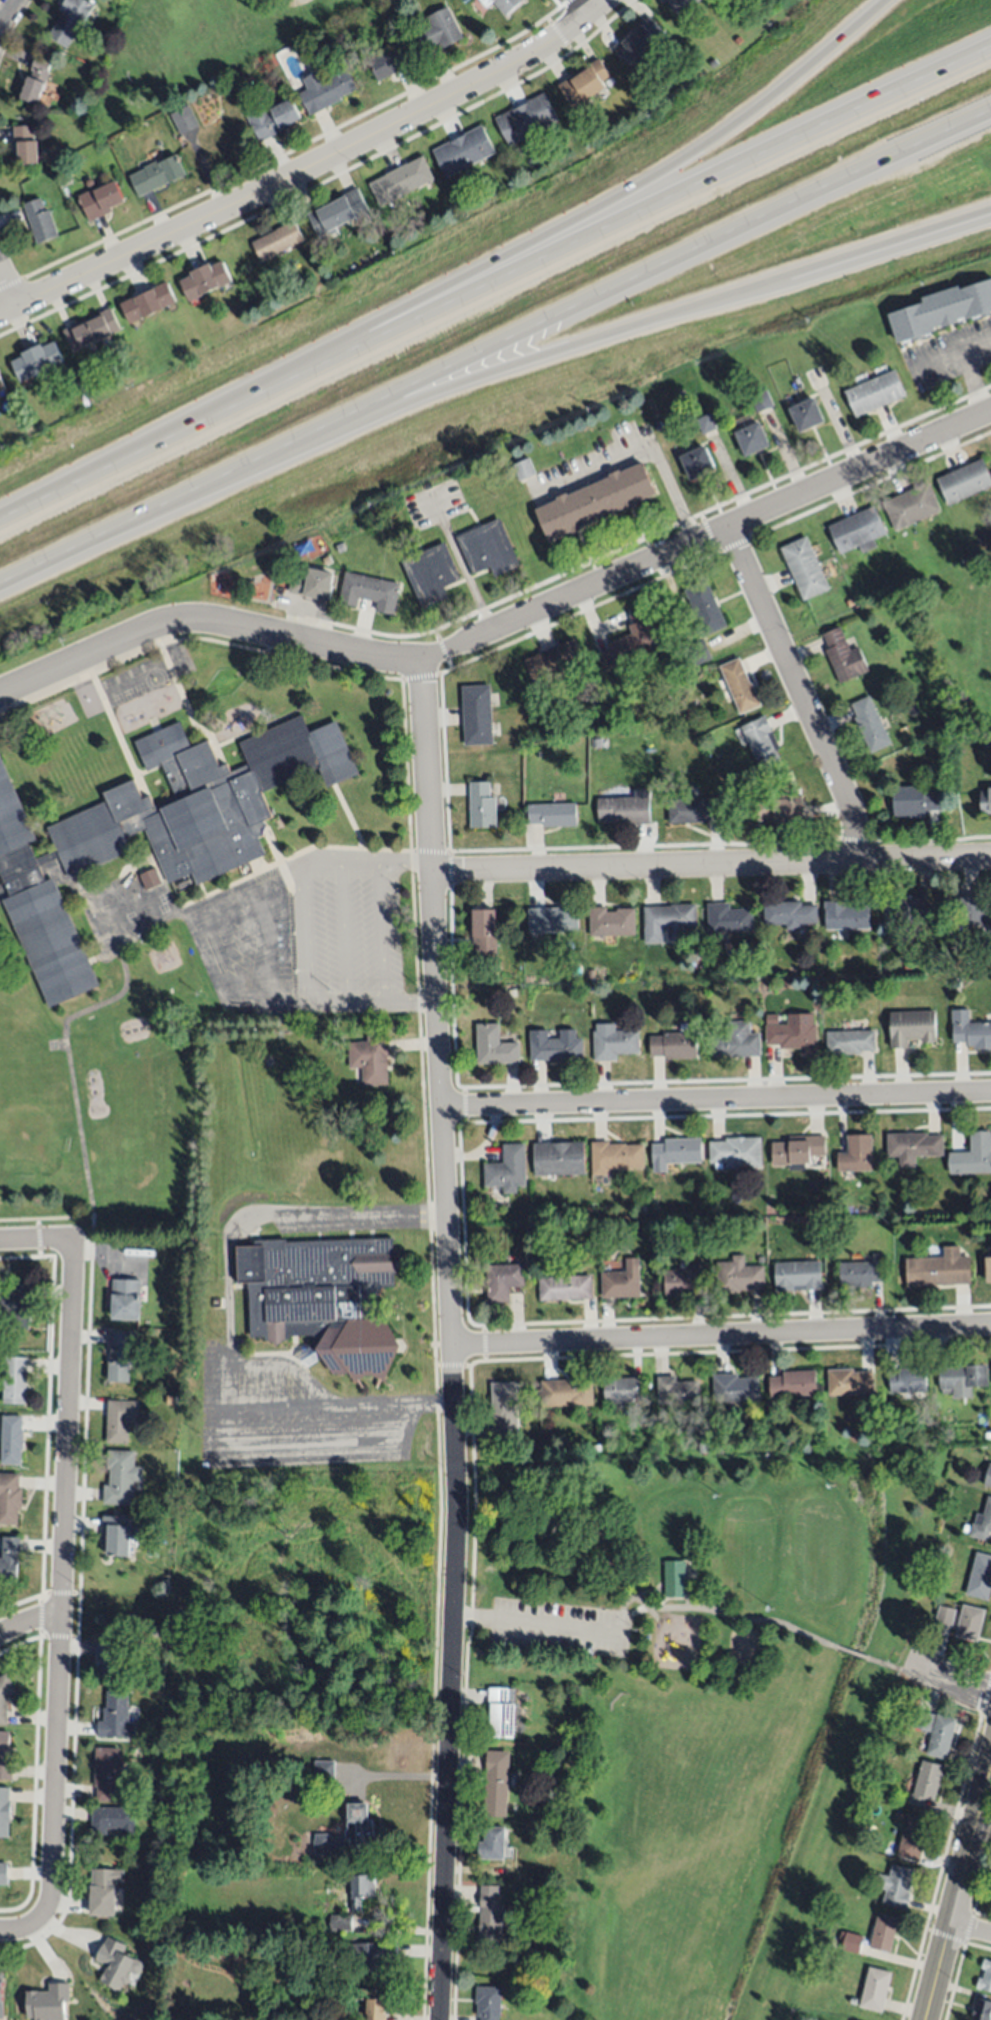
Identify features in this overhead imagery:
building: (502, 4)
building: (682, 4)
road: (584, 6)
road: (6, 12)
building: (70, 21)
road: (602, 26)
building: (438, 30)
building: (640, 41)
park: (213, 56)
building: (388, 63)
building: (713, 64)
building: (697, 66)
building: (35, 79)
building: (583, 84)
building: (324, 91)
building: (271, 118)
building: (526, 119)
building: (184, 120)
building: (24, 145)
road: (288, 151)
building: (464, 151)
road: (308, 169)
building: (156, 175)
building: (402, 183)
road: (307, 188)
building: (100, 200)
building: (338, 213)
building: (39, 220)
building: (277, 241)
building: (205, 280)
road: (457, 283)
road: (496, 289)
road: (8, 290)
building: (148, 302)
building: (941, 310)
building: (90, 328)
road: (493, 347)
road: (572, 349)
road: (952, 352)
building: (36, 360)
road: (972, 382)
building: (1, 386)
building: (875, 394)
building: (761, 402)
building: (806, 414)
building: (705, 423)
building: (752, 439)
building: (697, 463)
building: (523, 469)
building: (964, 482)
building: (595, 501)
building: (911, 506)
building: (857, 531)
building: (304, 548)
building: (340, 548)
building: (489, 549)
building: (804, 568)
road: (462, 570)
building: (431, 574)
building: (313, 585)
building: (369, 592)
building: (704, 608)
road: (504, 624)
building: (630, 641)
building: (695, 653)
park: (949, 655)
building: (843, 656)
building: (554, 661)
building: (739, 686)
building: (672, 689)
road: (798, 691)
building: (477, 716)
building: (545, 724)
building: (870, 724)
building: (595, 741)
building: (987, 743)
building: (763, 744)
building: (916, 801)
building: (986, 802)
building: (482, 806)
building: (626, 809)
building: (742, 809)
building: (779, 809)
building: (694, 810)
building: (553, 815)
building: (153, 831)
road: (401, 861)
road: (343, 862)
road: (711, 864)
road: (305, 872)
building: (150, 879)
building: (975, 911)
building: (790, 914)
building: (845, 916)
building: (907, 916)
building: (729, 918)
building: (552, 920)
building: (668, 921)
building: (611, 922)
building: (951, 929)
road: (345, 931)
building: (485, 933)
road: (380, 934)
road: (307, 939)
building: (907, 966)
building: (954, 981)
building: (568, 987)
road: (347, 1000)
road: (411, 1000)
building: (911, 1026)
building: (792, 1031)
building: (970, 1031)
building: (735, 1040)
building: (850, 1041)
building: (615, 1044)
building: (673, 1045)
building: (495, 1046)
building: (558, 1048)
building: (371, 1059)
road: (68, 1068)
road: (718, 1099)
building: (914, 1146)
building: (675, 1151)
building: (798, 1151)
building: (736, 1152)
building: (857, 1154)
building: (973, 1155)
building: (615, 1157)
building: (559, 1159)
building: (508, 1169)
road: (357, 1215)
building: (103, 1225)
road: (27, 1238)
building: (940, 1269)
building: (988, 1269)
building: (860, 1274)
building: (737, 1276)
building: (798, 1276)
building: (683, 1281)
building: (504, 1282)
building: (620, 1283)
building: (565, 1288)
building: (323, 1297)
building: (125, 1299)
road: (225, 1300)
building: (16, 1305)
road: (721, 1336)
road: (451, 1338)
building: (119, 1356)
building: (908, 1379)
building: (962, 1379)
building: (14, 1381)
building: (850, 1382)
building: (793, 1384)
building: (735, 1388)
building: (622, 1389)
building: (677, 1391)
building: (567, 1393)
road: (433, 1406)
building: (505, 1408)
building: (120, 1419)
building: (987, 1436)
building: (11, 1440)
road: (218, 1440)
building: (597, 1448)
building: (703, 1448)
building: (121, 1477)
building: (988, 1477)
building: (11, 1496)
building: (545, 1523)
building: (983, 1524)
building: (118, 1534)
building: (9, 1558)
road: (62, 1567)
building: (980, 1577)
building: (675, 1578)
road: (660, 1608)
building: (945, 1615)
road: (29, 1621)
building: (970, 1623)
building: (154, 1632)
building: (108, 1660)
road: (944, 1680)
building: (4, 1696)
park: (708, 1706)
building: (502, 1712)
building: (116, 1717)
building: (936, 1732)
building: (568, 1751)
building: (5, 1756)
building: (882, 1768)
building: (324, 1770)
building: (106, 1773)
building: (926, 1782)
building: (496, 1783)
building: (161, 1785)
building: (193, 1797)
building: (4, 1811)
building: (899, 1816)
building: (114, 1821)
building: (359, 1825)
building: (552, 1836)
building: (913, 1837)
building: (497, 1844)
road: (946, 1844)
building: (3, 1874)
building: (896, 1884)
building: (361, 1889)
building: (102, 1893)
road: (958, 1894)
building: (150, 1914)
building: (490, 1917)
building: (340, 1921)
road: (967, 1926)
road: (971, 1929)
road: (26, 1930)
building: (885, 1932)
building: (858, 1948)
building: (374, 1955)
building: (115, 1963)
building: (985, 1976)
building: (274, 1984)
building: (875, 1990)
building: (0, 1997)
building: (852, 2000)
building: (488, 2002)
building: (47, 2003)
building: (373, 2006)
building: (982, 2010)

